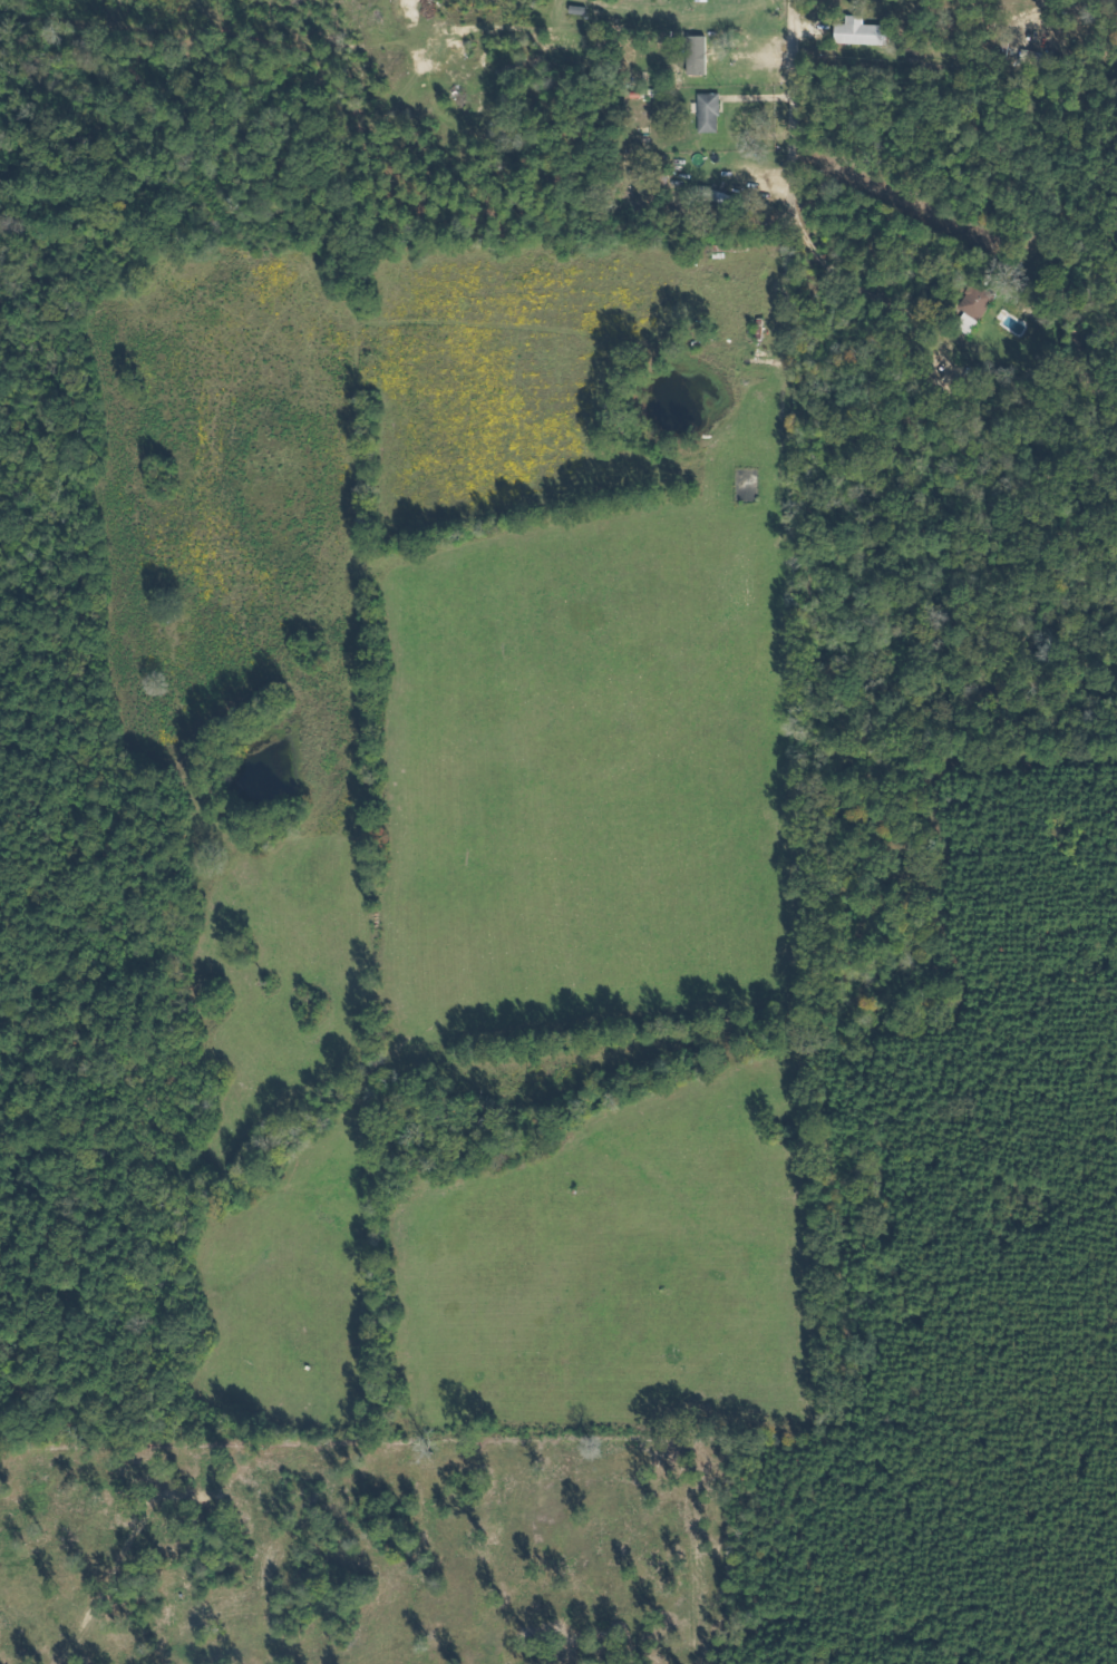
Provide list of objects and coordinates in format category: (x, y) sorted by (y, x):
building: (703, 0)
building: (863, 32)
building: (699, 56)
road: (789, 106)
building: (710, 113)
building: (975, 309)

